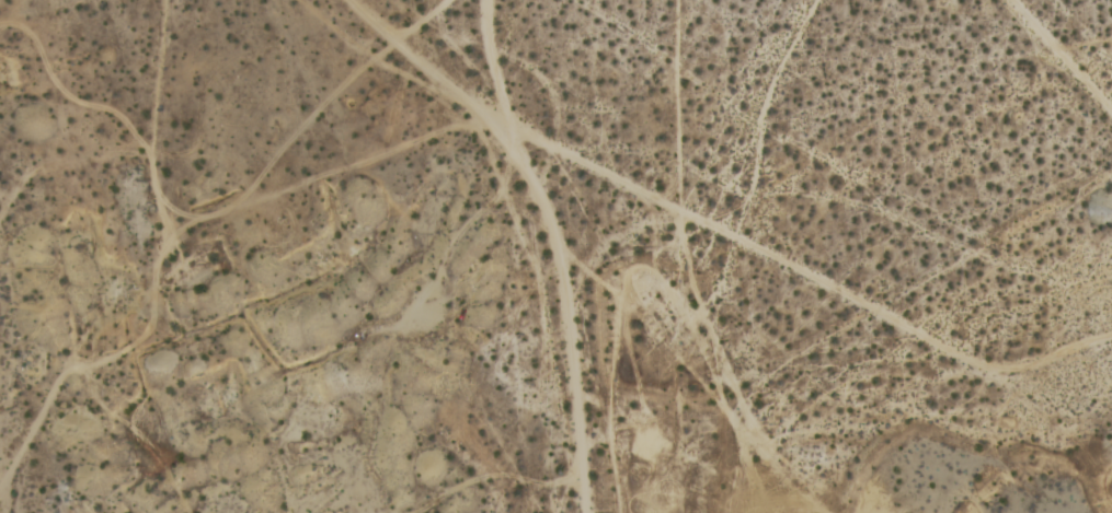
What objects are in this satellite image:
road: (376, 22)
road: (558, 247)

